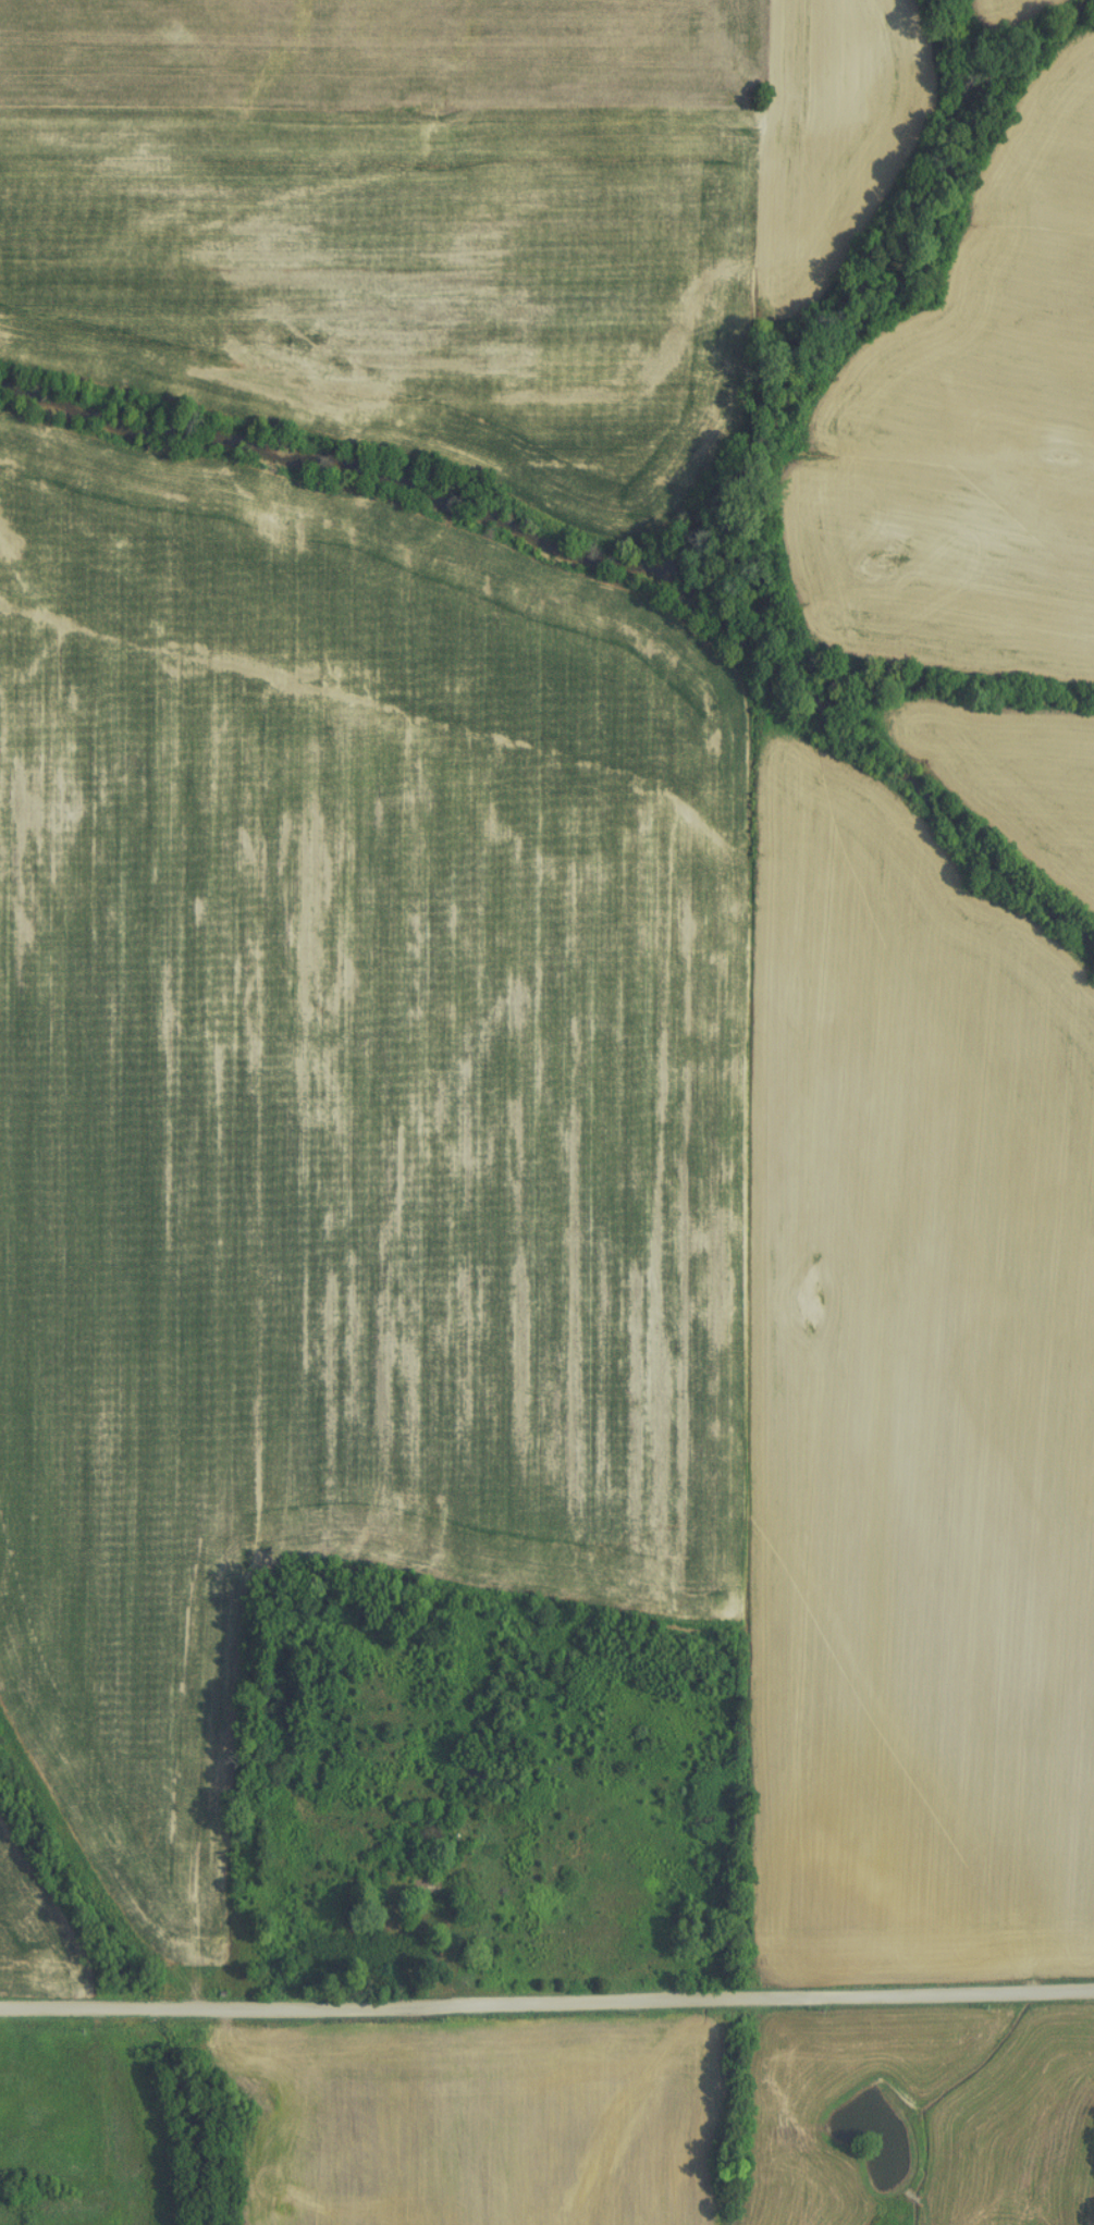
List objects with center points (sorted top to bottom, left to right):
building: (418, 1885)
building: (368, 1956)
road: (546, 2004)

